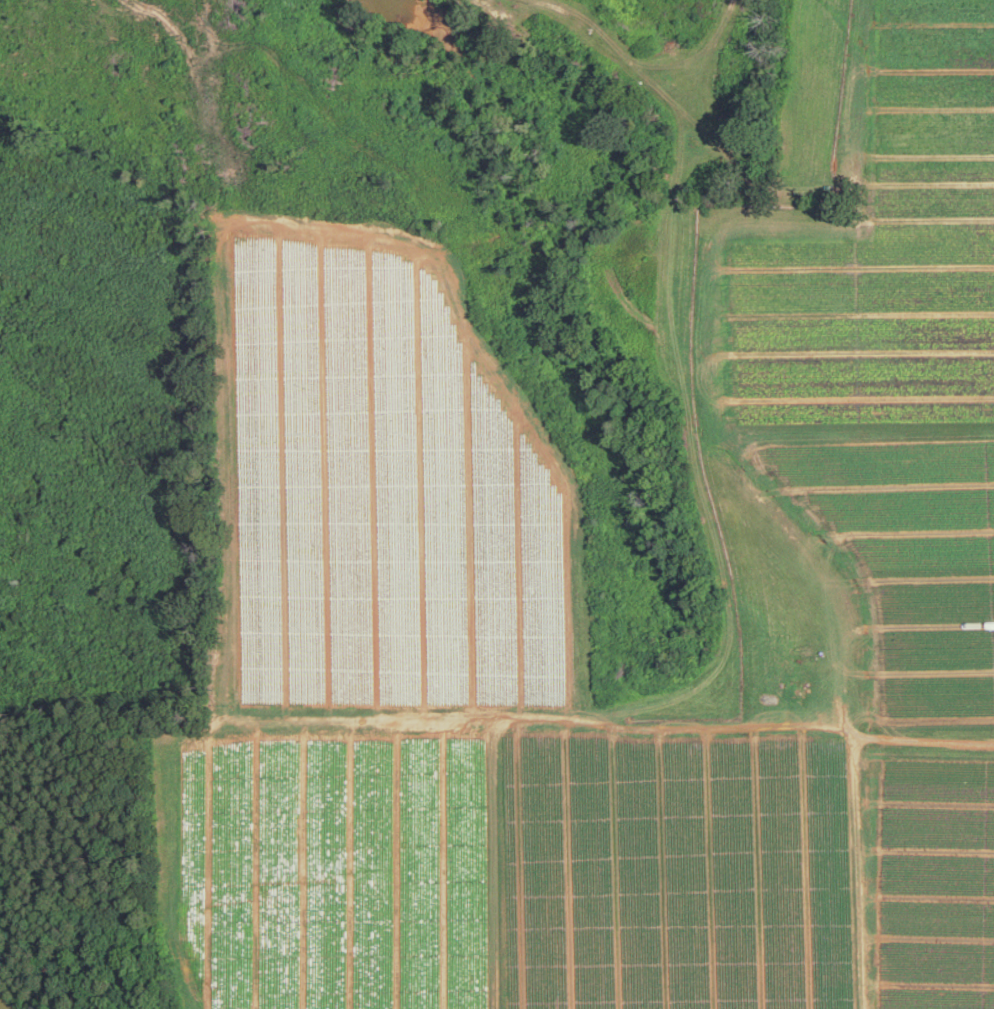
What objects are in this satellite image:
road: (631, 725)

